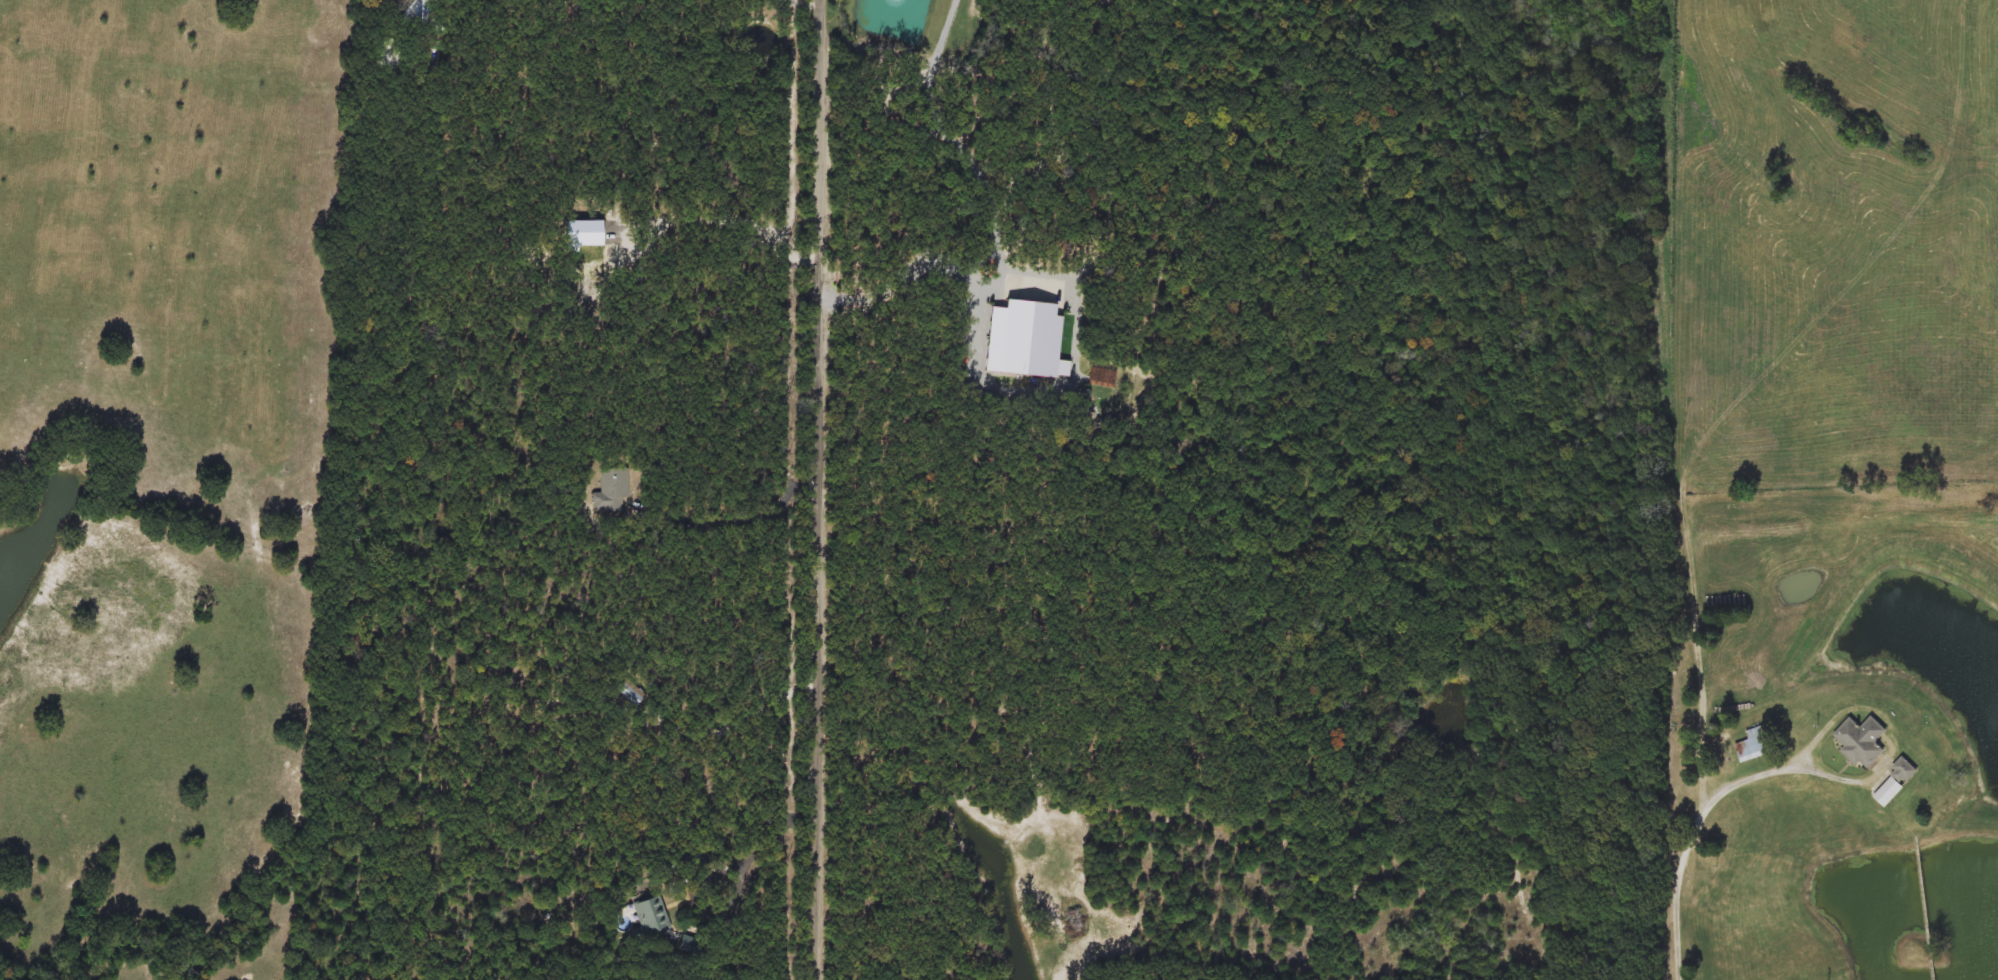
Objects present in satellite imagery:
road: (722, 220)
road: (905, 269)
building: (1024, 340)
road: (815, 489)
building: (611, 491)
road: (741, 521)
building: (627, 694)
building: (1861, 742)
building: (1755, 745)
building: (1904, 770)
road: (1704, 808)
road: (716, 875)
building: (650, 917)

